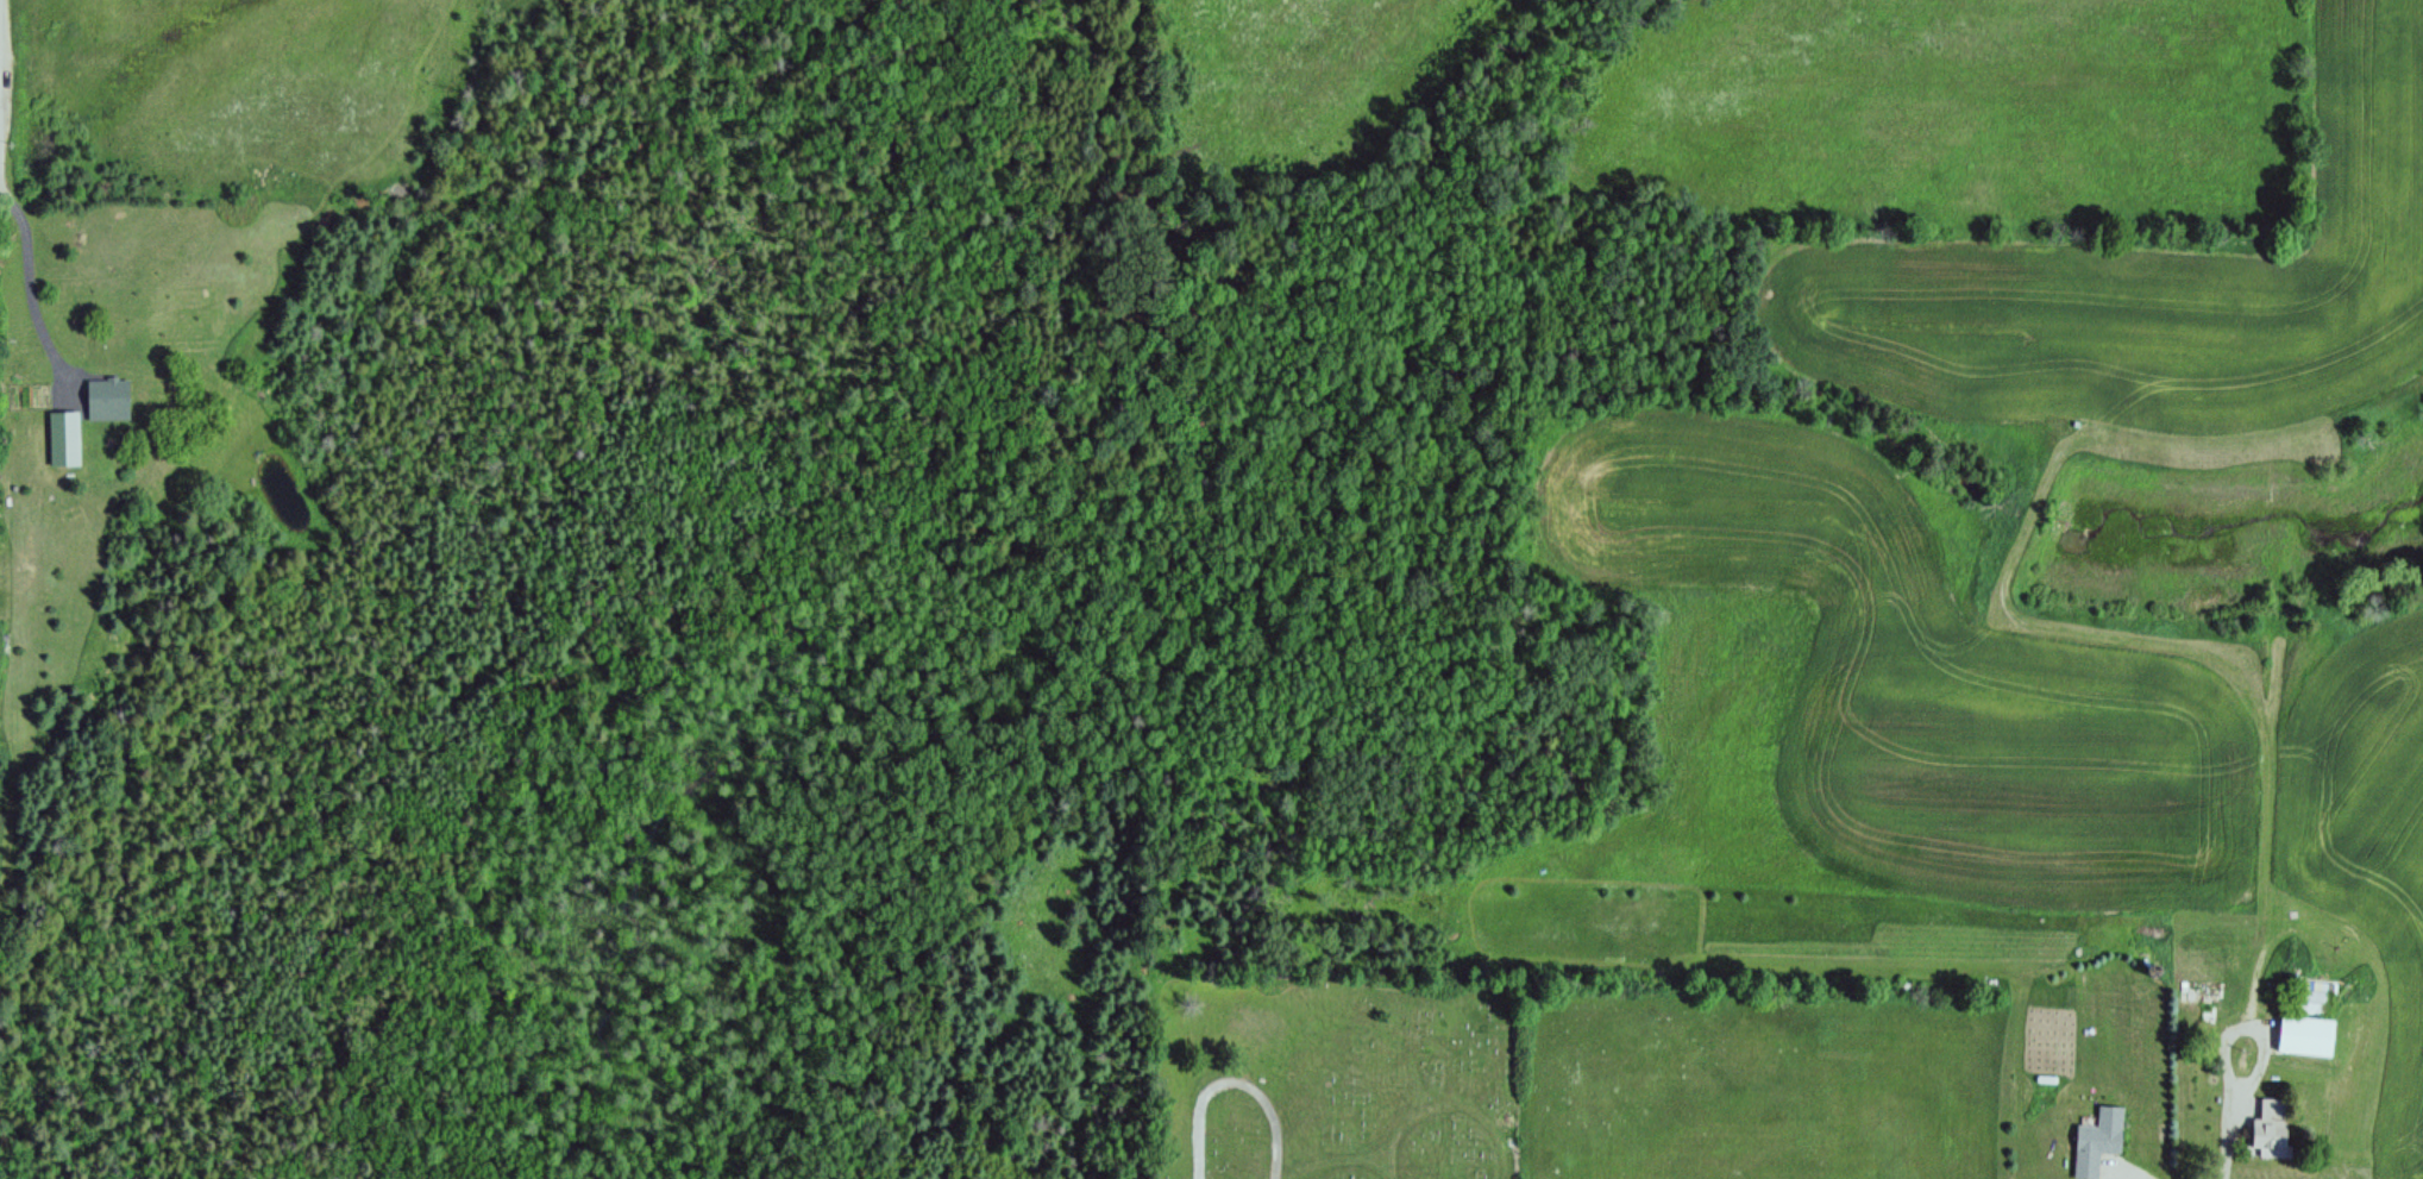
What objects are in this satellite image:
road: (69, 193)
building: (39, 397)
building: (107, 400)
building: (64, 439)
building: (2311, 1003)
building: (2305, 1037)
road: (1235, 1083)
park: (1323, 1083)
road: (1446, 1110)
road: (2228, 1112)
building: (2271, 1129)
building: (2098, 1142)
road: (1337, 1161)

